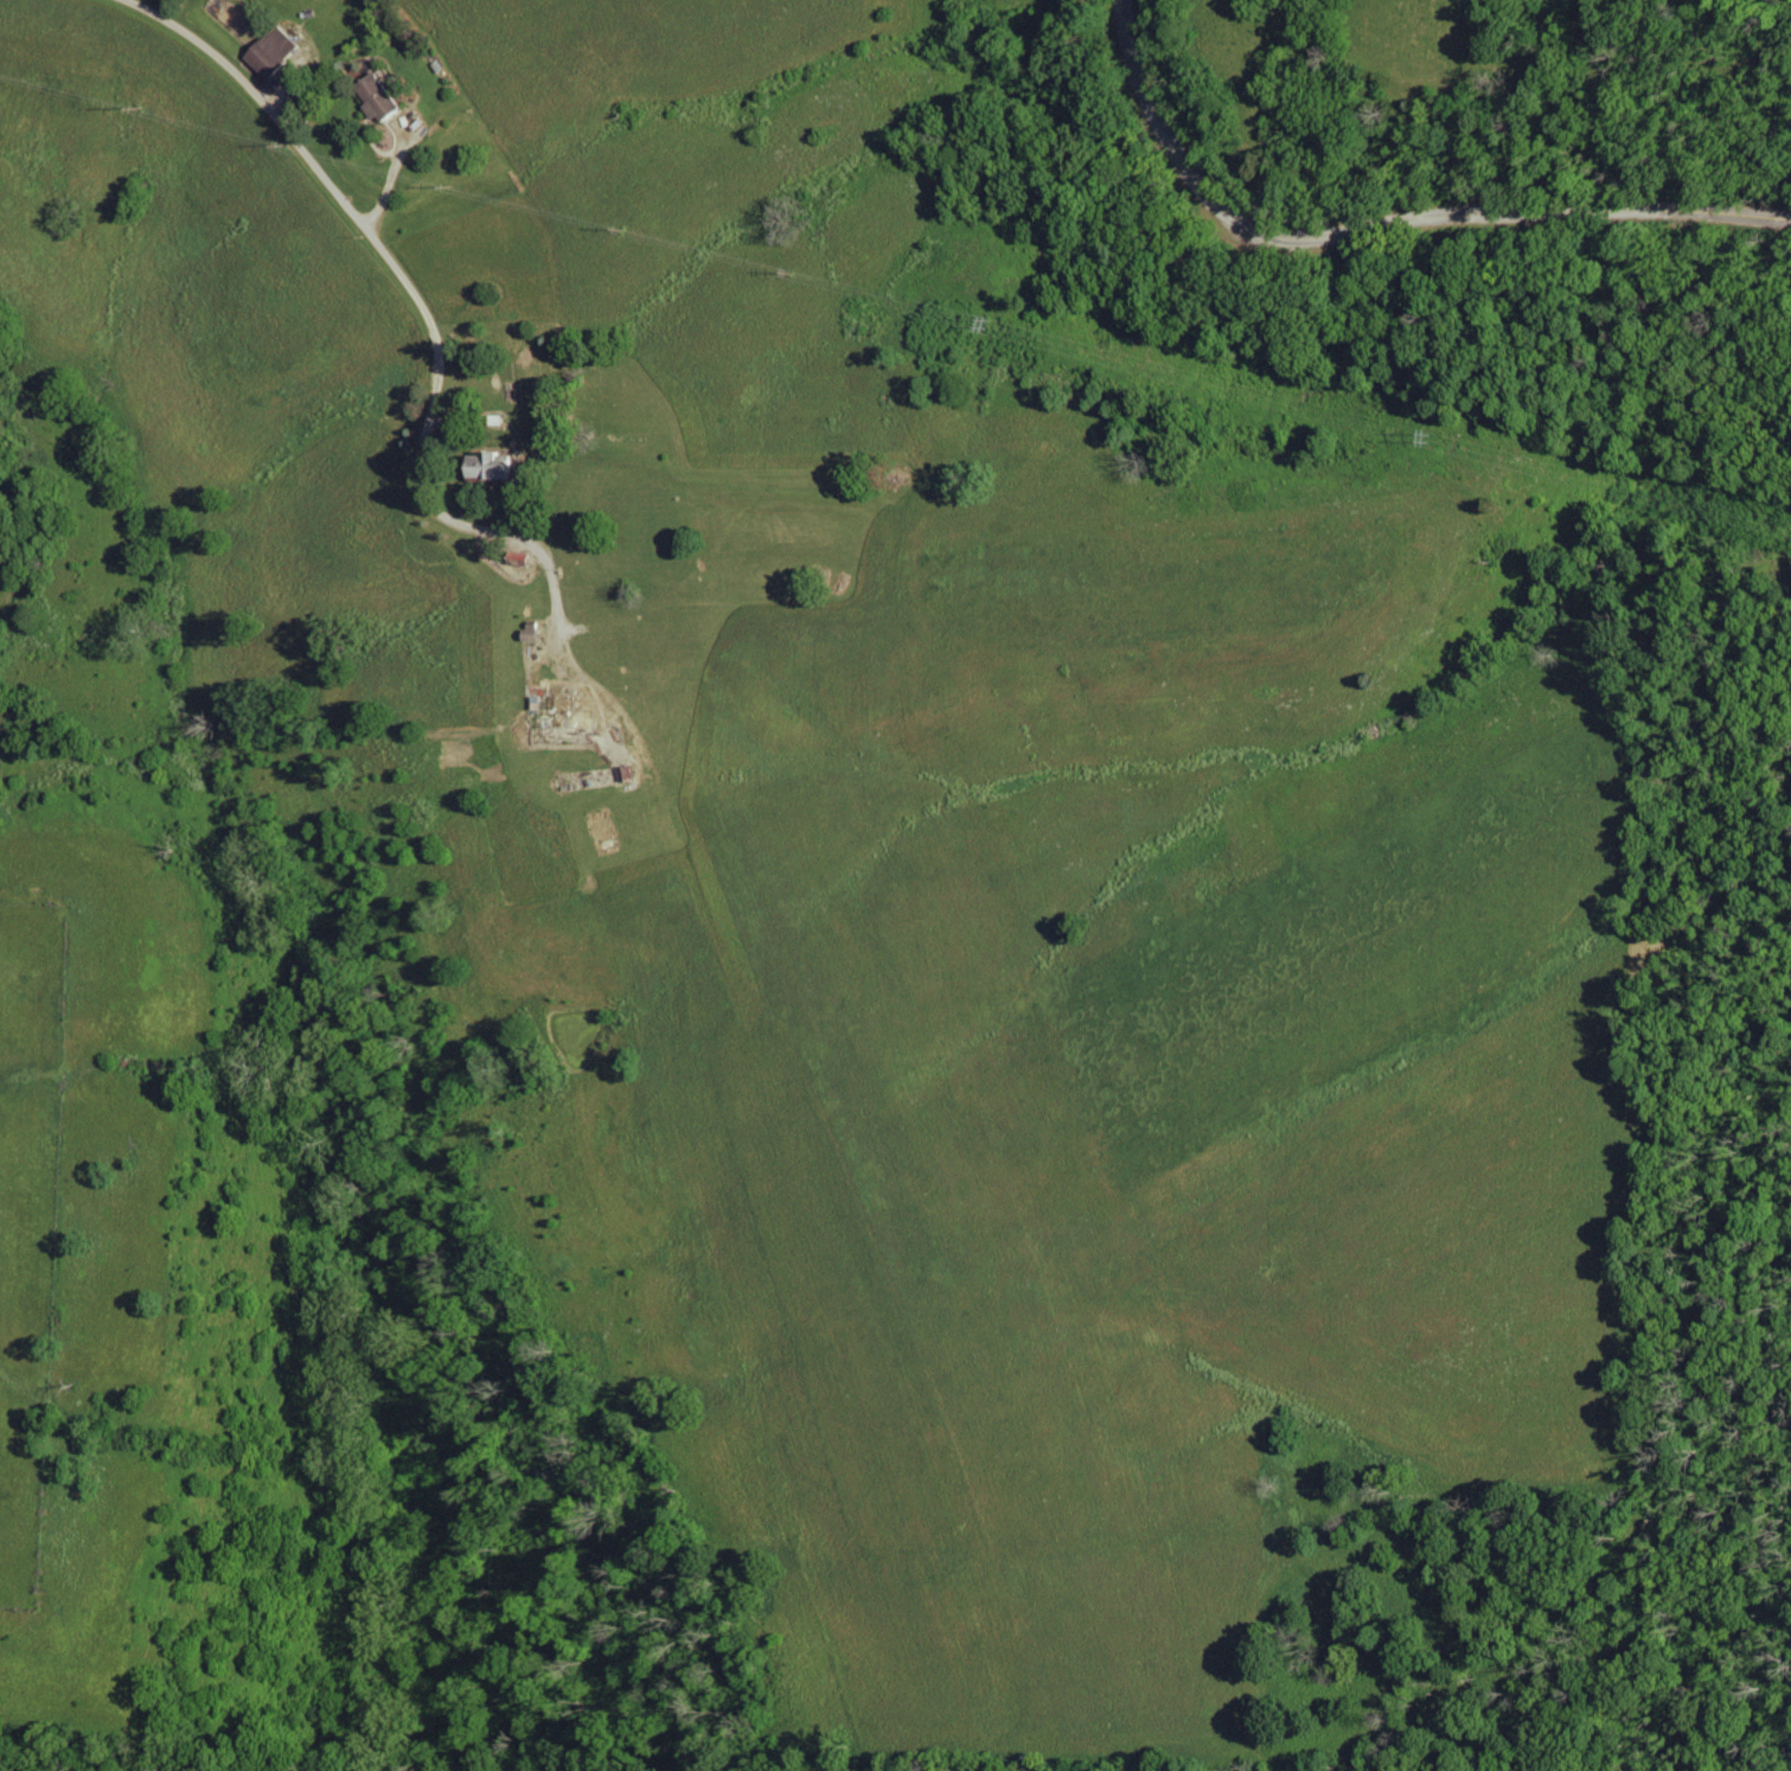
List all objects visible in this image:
building: (277, 51)
building: (383, 100)
road: (396, 174)
road: (1383, 225)
road: (421, 303)
building: (498, 466)

